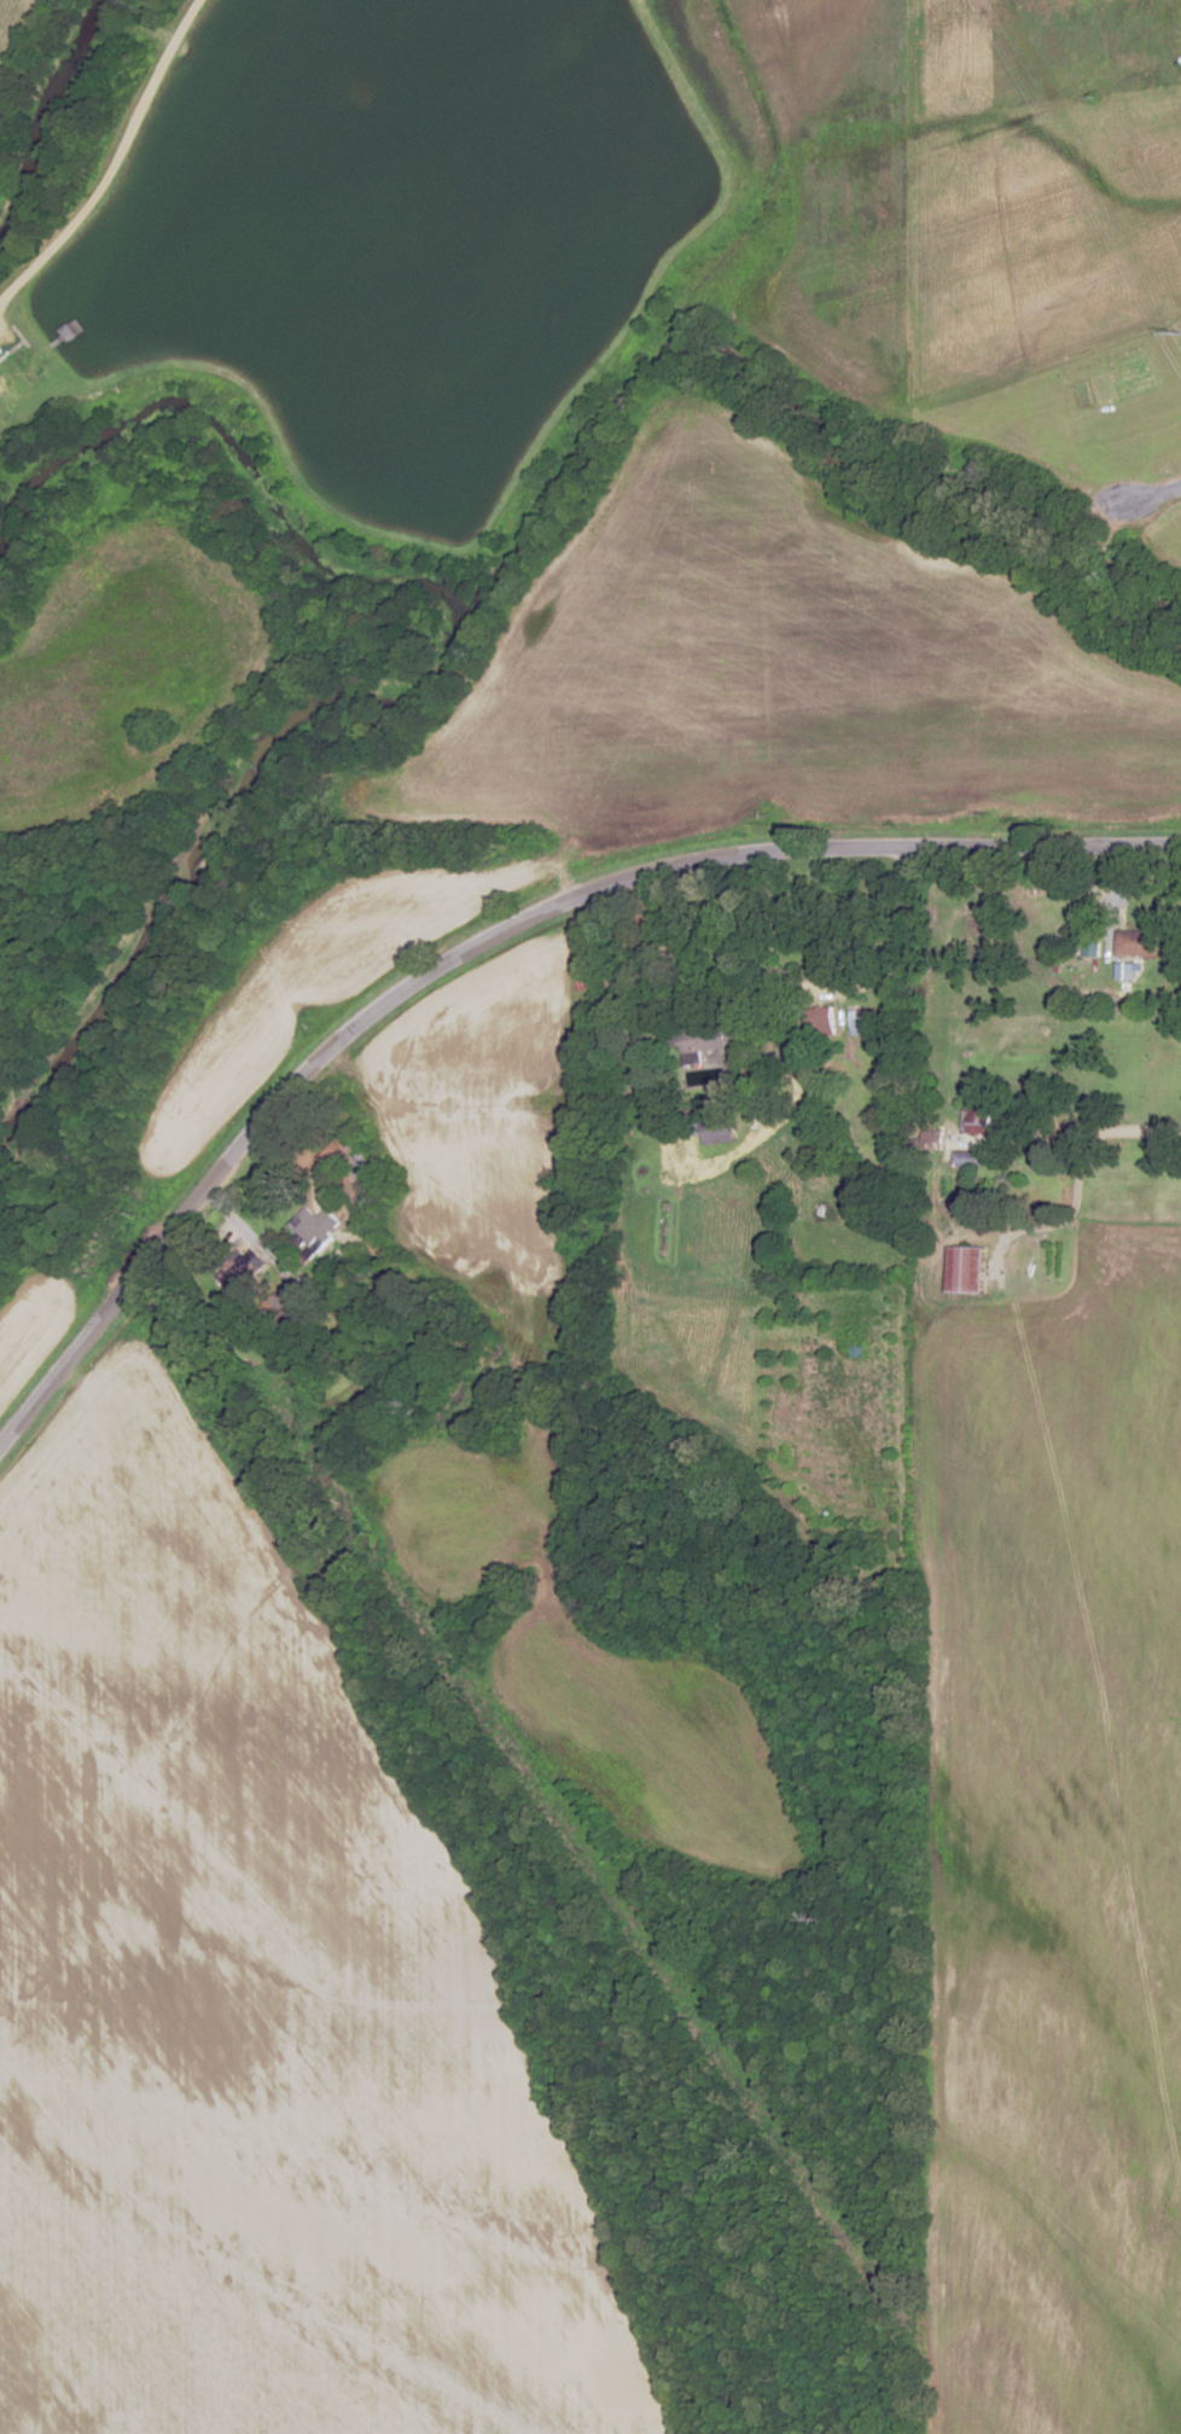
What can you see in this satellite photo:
building: (27, 361)
road: (485, 935)
building: (1136, 942)
building: (820, 1021)
building: (865, 1022)
building: (706, 1044)
building: (975, 1120)
building: (716, 1131)
road: (1112, 1134)
building: (932, 1139)
building: (962, 1157)
building: (313, 1227)
road: (255, 1249)
building: (966, 1268)
road: (87, 1603)

